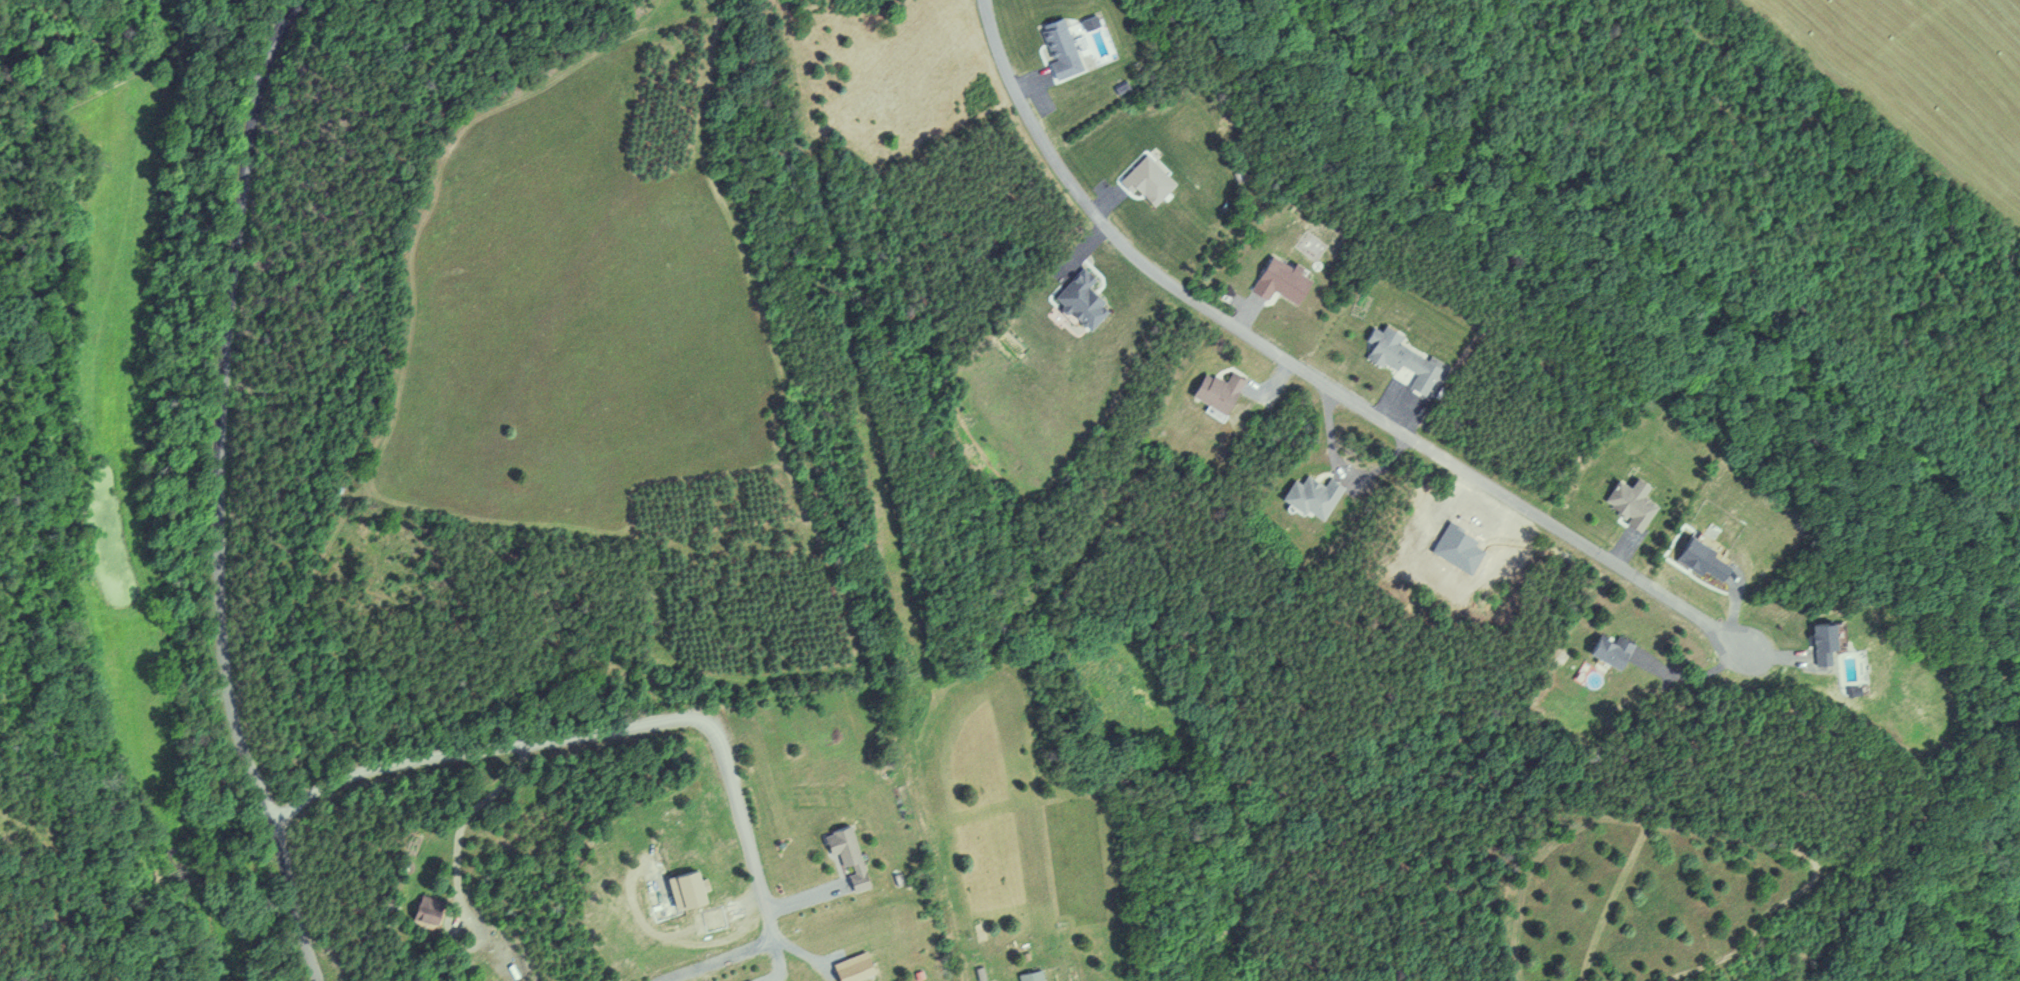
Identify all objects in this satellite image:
building: (1055, 46)
building: (1144, 179)
building: (1077, 298)
building: (1398, 356)
road: (1309, 373)
building: (1213, 389)
road: (214, 493)
building: (1311, 496)
building: (1627, 501)
building: (1605, 648)
road: (652, 724)
building: (845, 855)
road: (798, 898)
road: (774, 956)
building: (1028, 975)
building: (751, 980)

